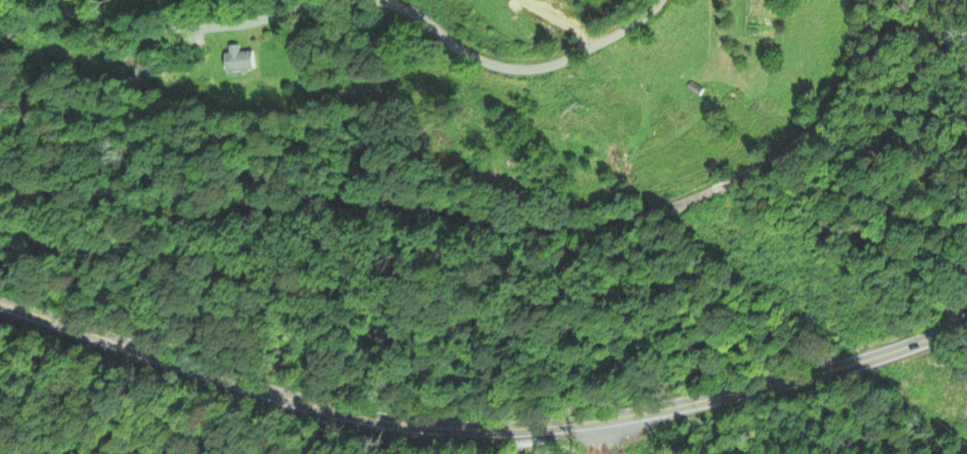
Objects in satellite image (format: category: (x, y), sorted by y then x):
road: (446, 17)
road: (164, 25)
building: (241, 59)
road: (517, 64)
road: (484, 424)

